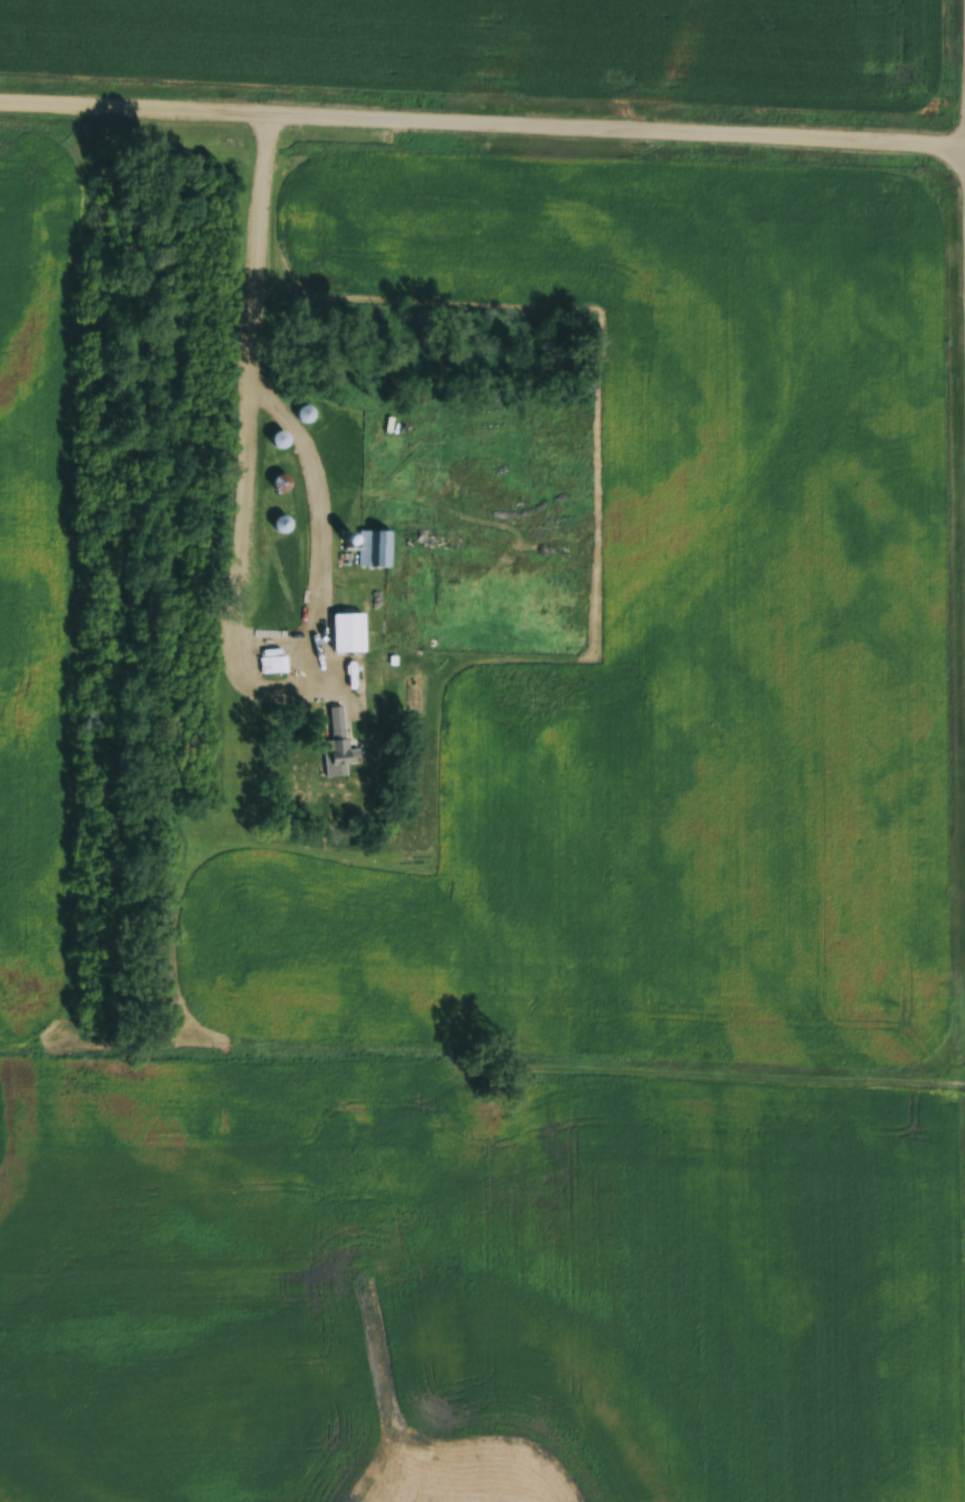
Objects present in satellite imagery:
road: (482, 124)
road: (261, 394)
building: (304, 413)
building: (277, 439)
building: (280, 483)
building: (279, 524)
building: (419, 541)
building: (374, 549)
crop: (38, 575)
building: (347, 634)
crop: (662, 637)
building: (277, 665)
building: (338, 746)

